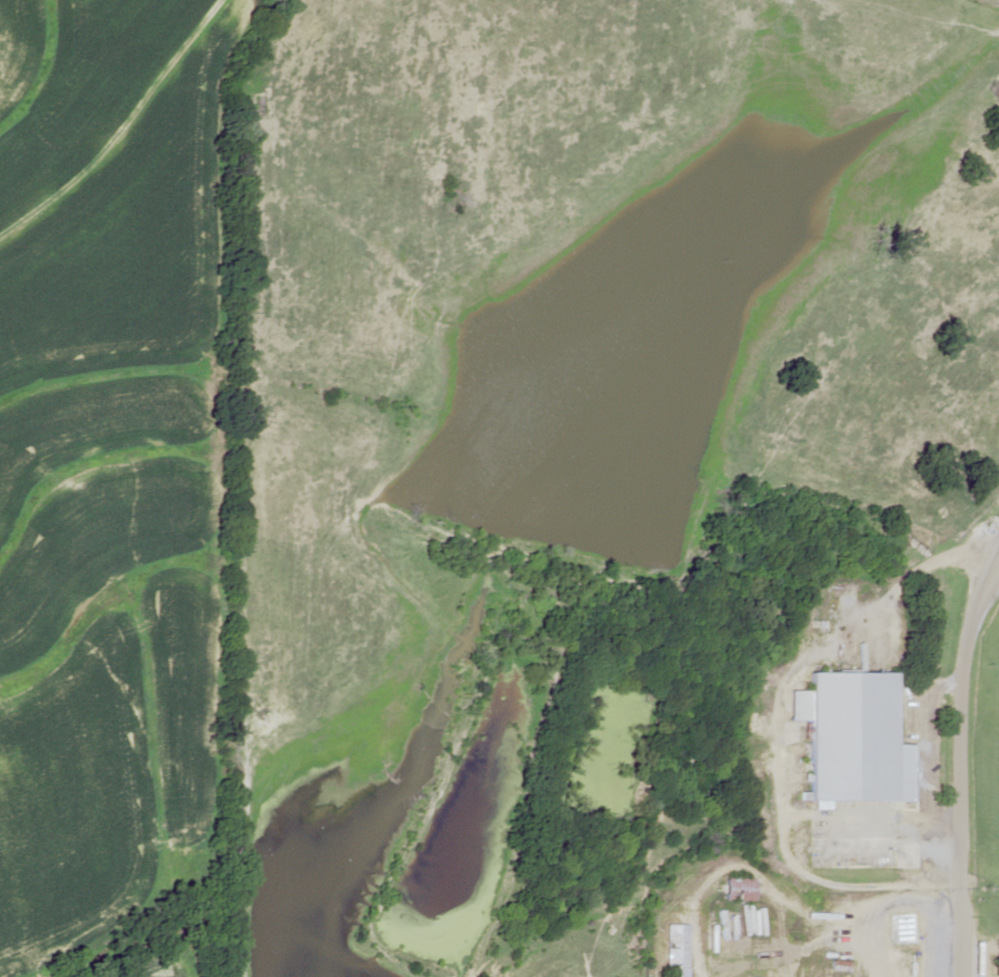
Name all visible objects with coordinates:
building: (851, 737)
road: (979, 746)
building: (738, 889)
building: (676, 950)
building: (839, 967)

